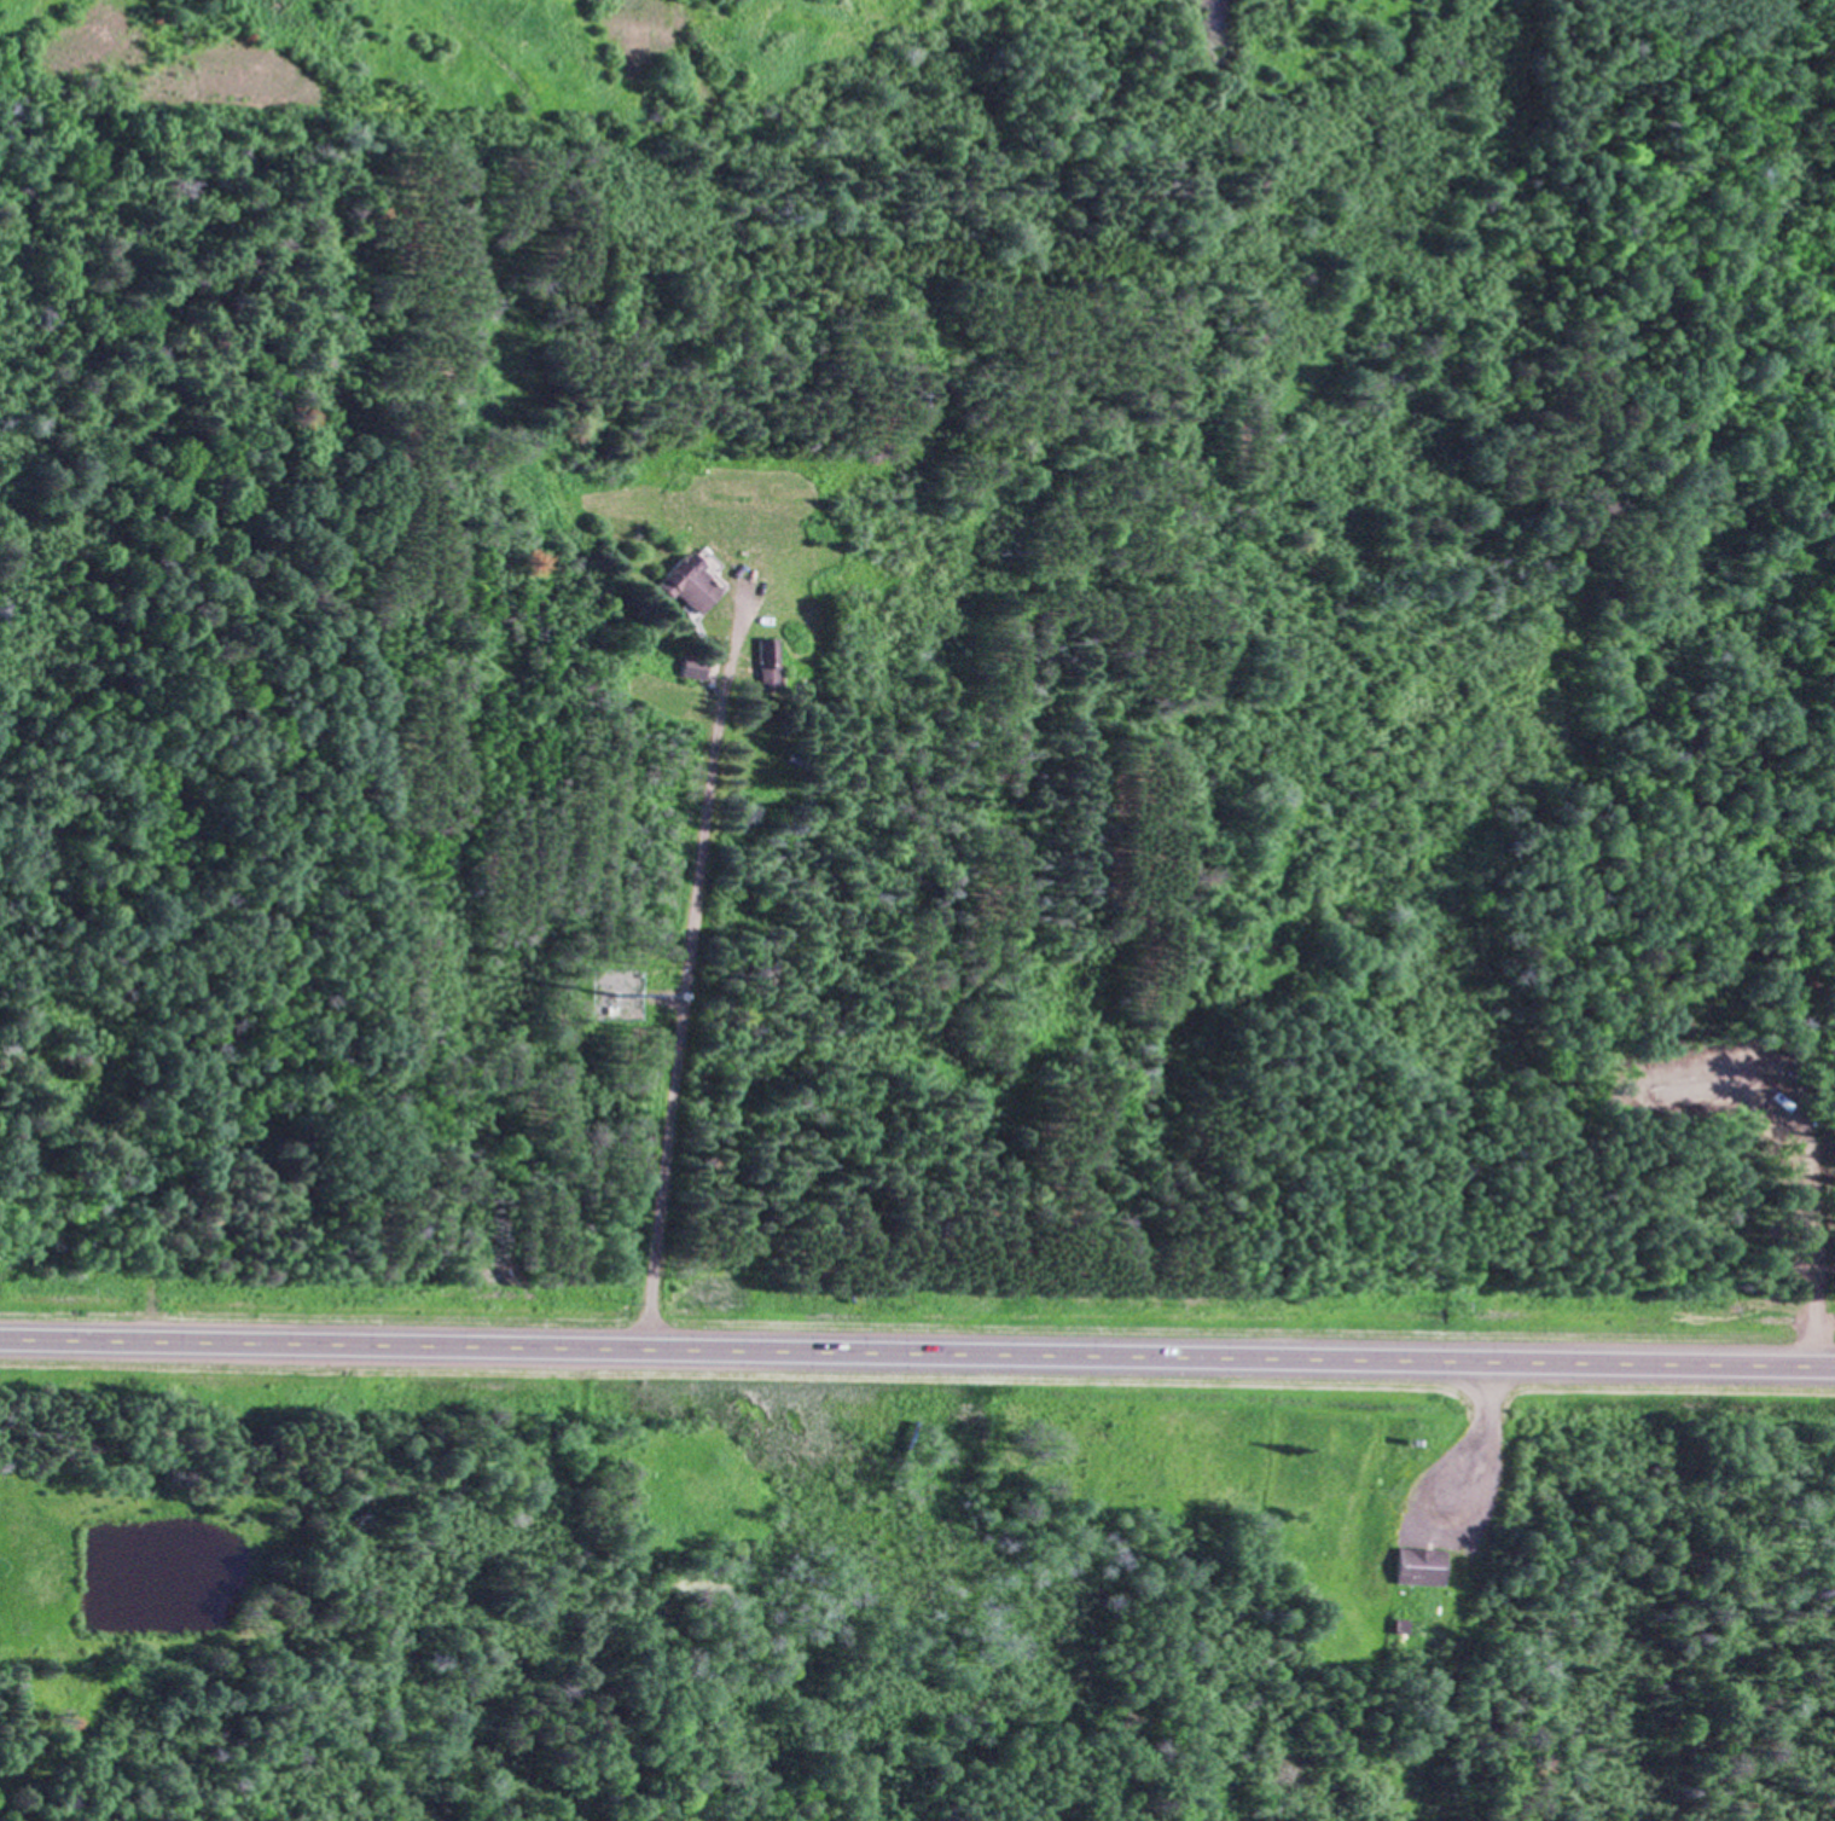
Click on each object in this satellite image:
building: (693, 582)
building: (767, 661)
building: (692, 667)
road: (681, 994)
road: (917, 1352)
road: (1482, 1446)
building: (1418, 1565)

